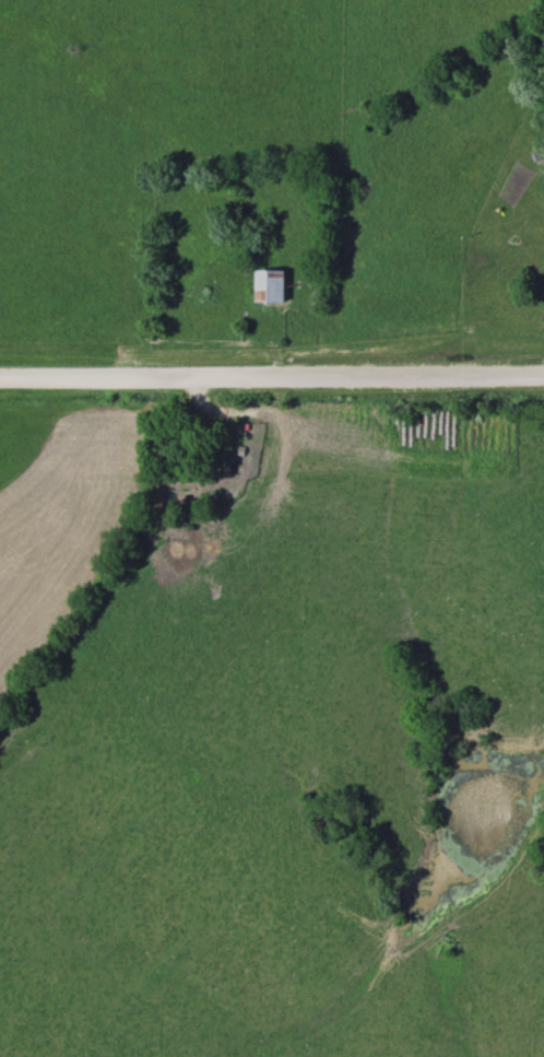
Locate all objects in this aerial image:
building: (265, 287)
road: (272, 376)

